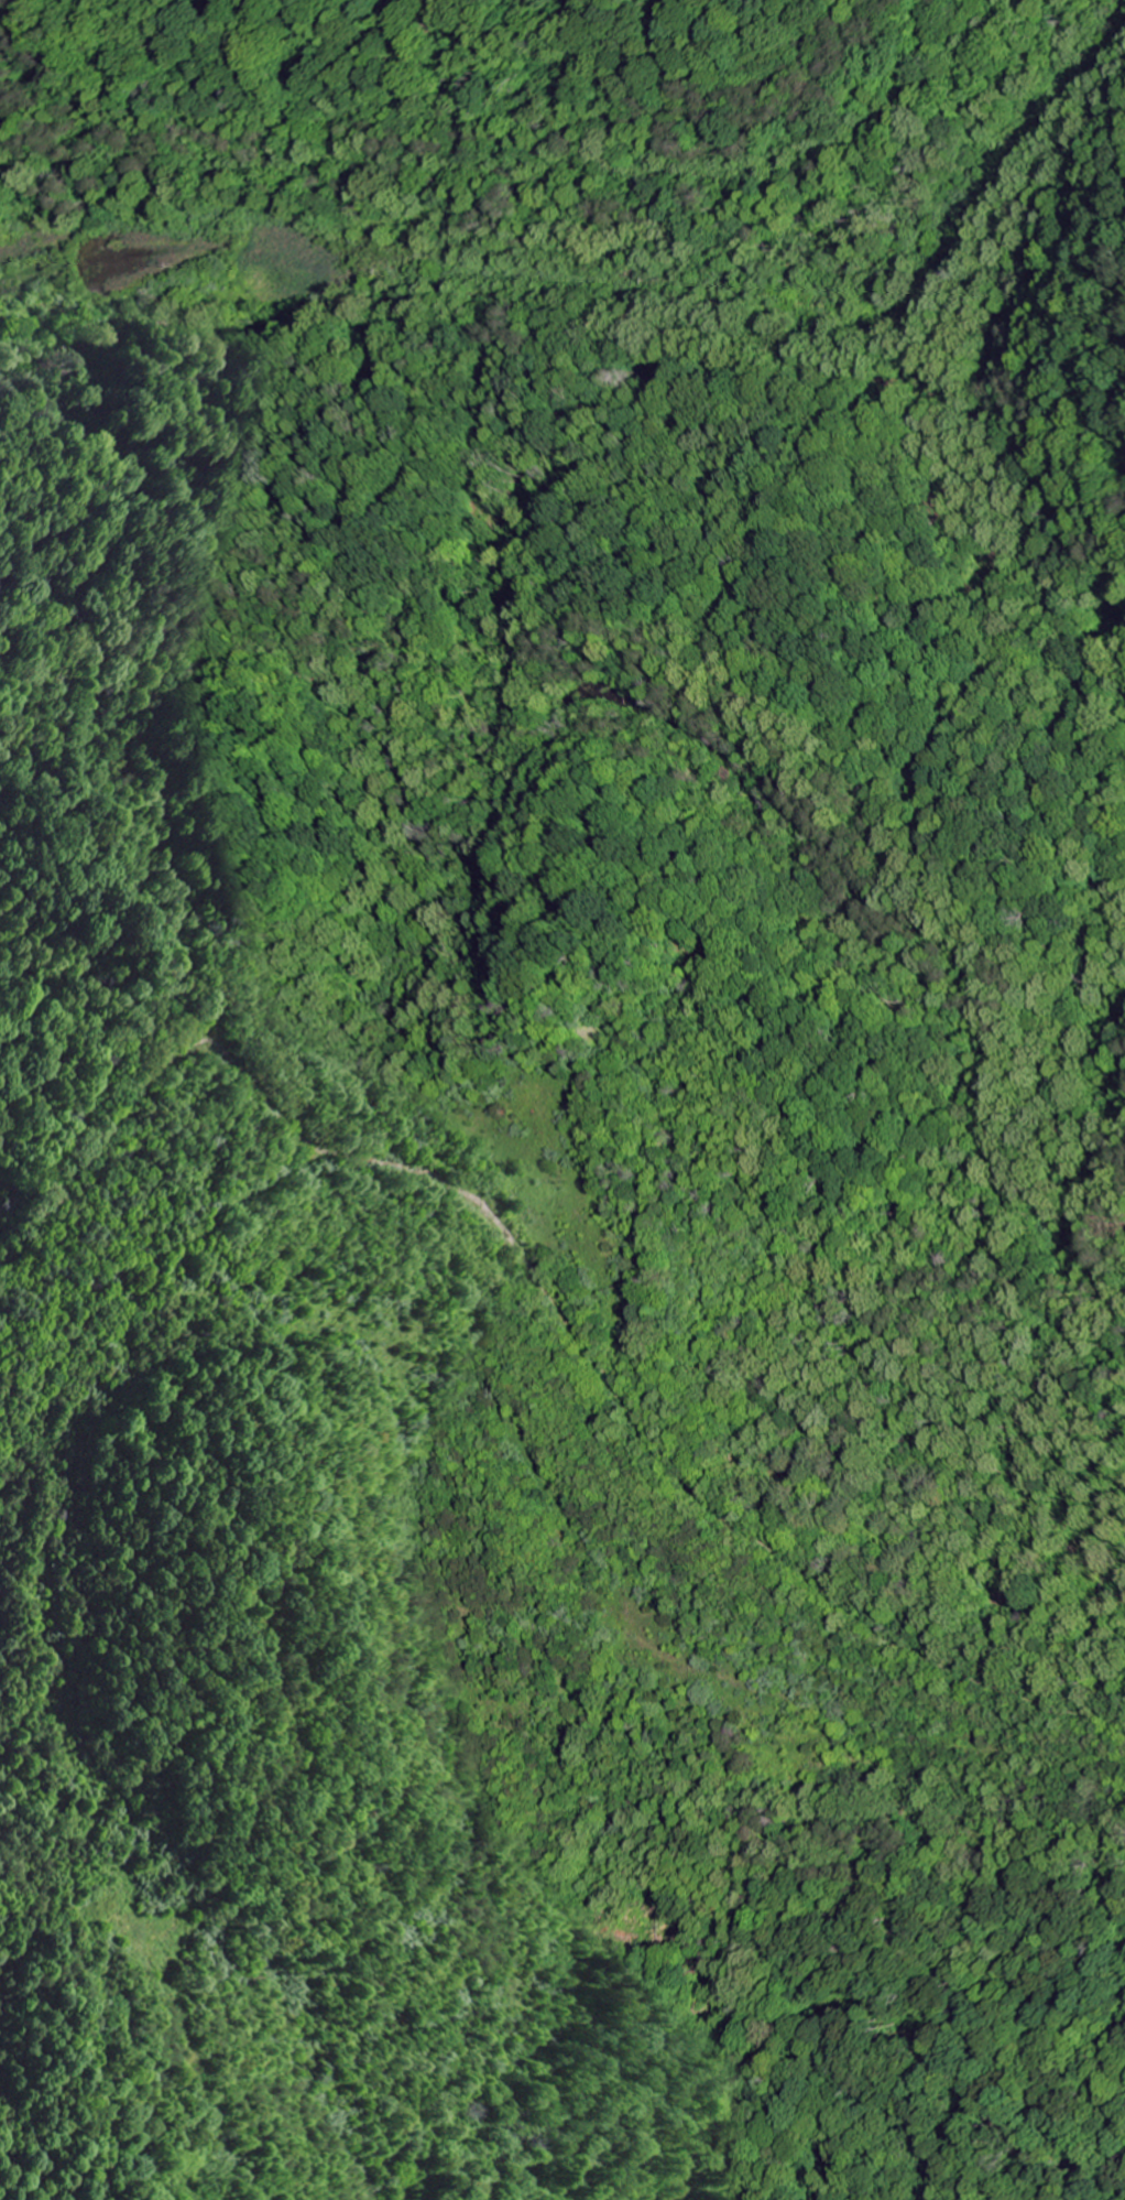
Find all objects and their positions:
road: (544, 1289)

